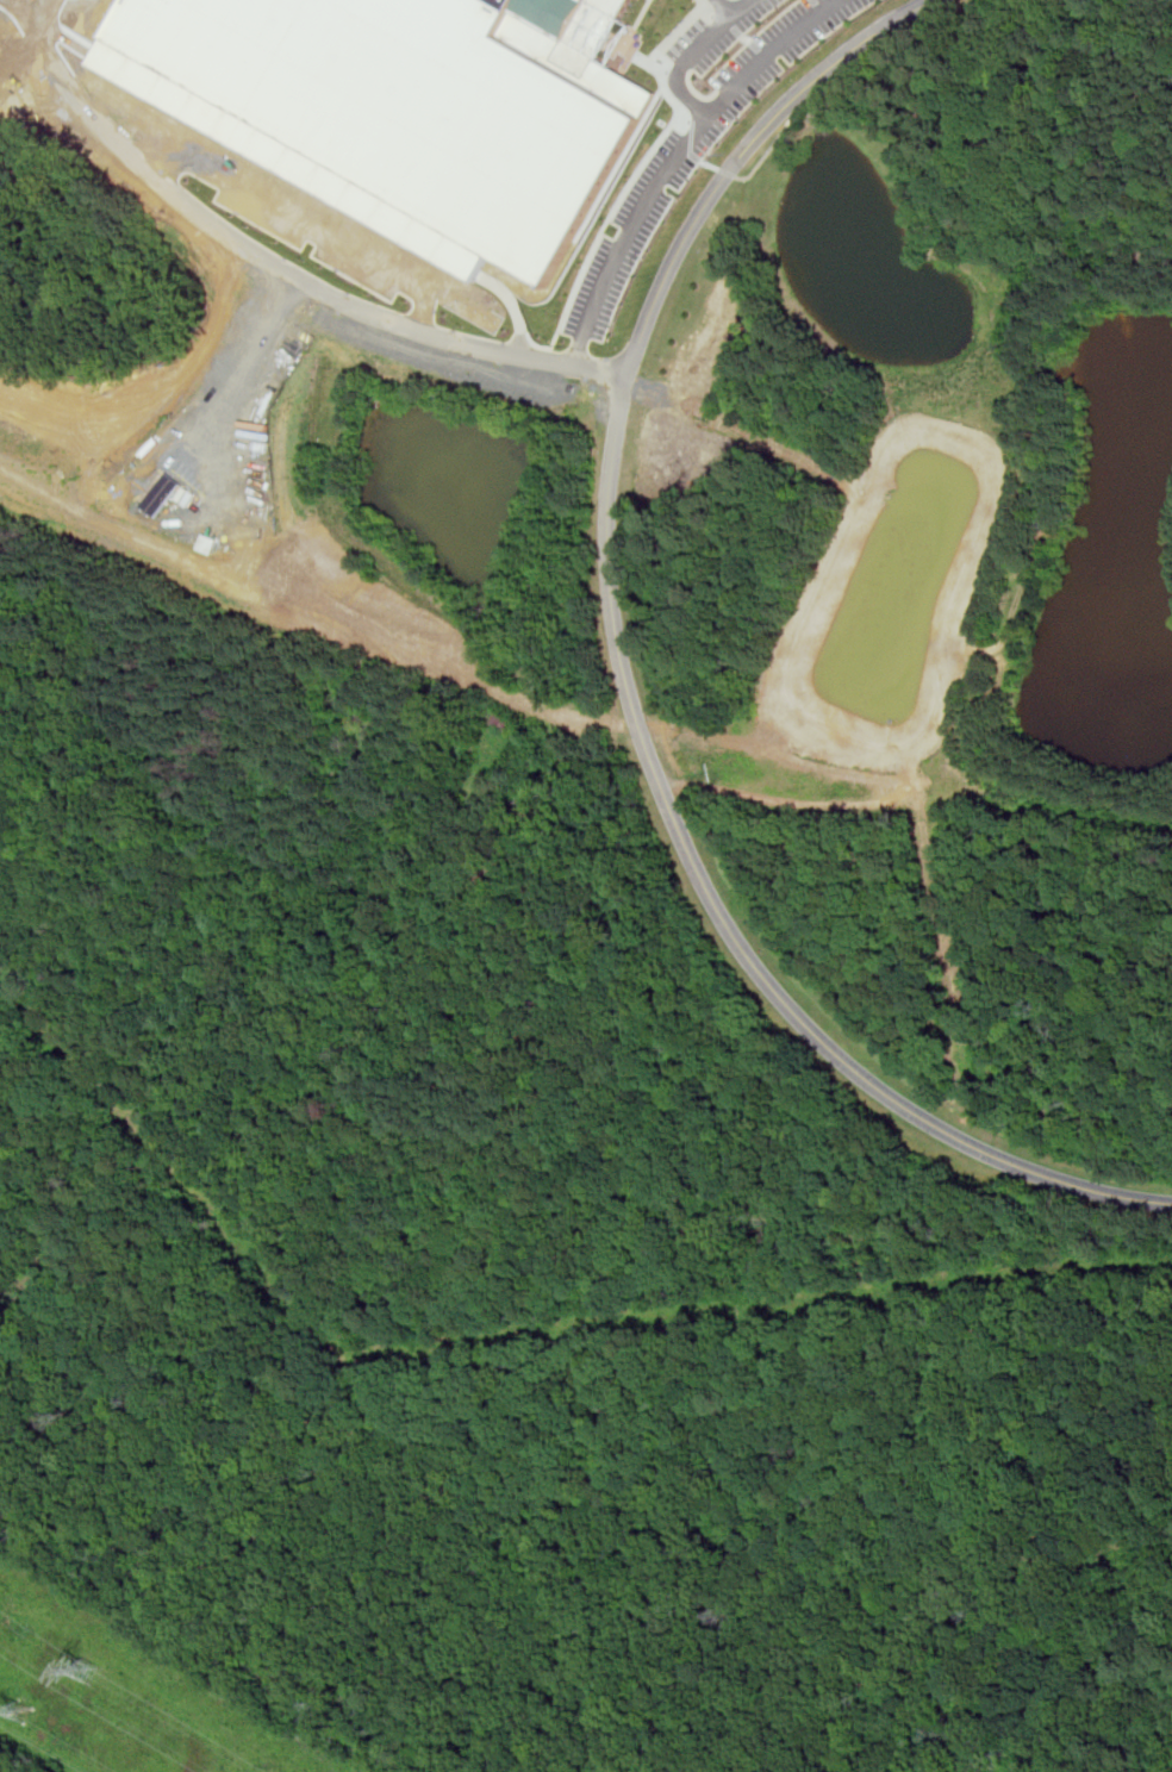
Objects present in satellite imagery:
road: (733, 4)
building: (575, 26)
road: (760, 51)
road: (849, 71)
building: (403, 105)
road: (728, 171)
road: (662, 174)
road: (283, 267)
road: (242, 386)
road: (626, 681)
building: (495, 718)
power tower: (88, 1673)
power tower: (23, 1716)

